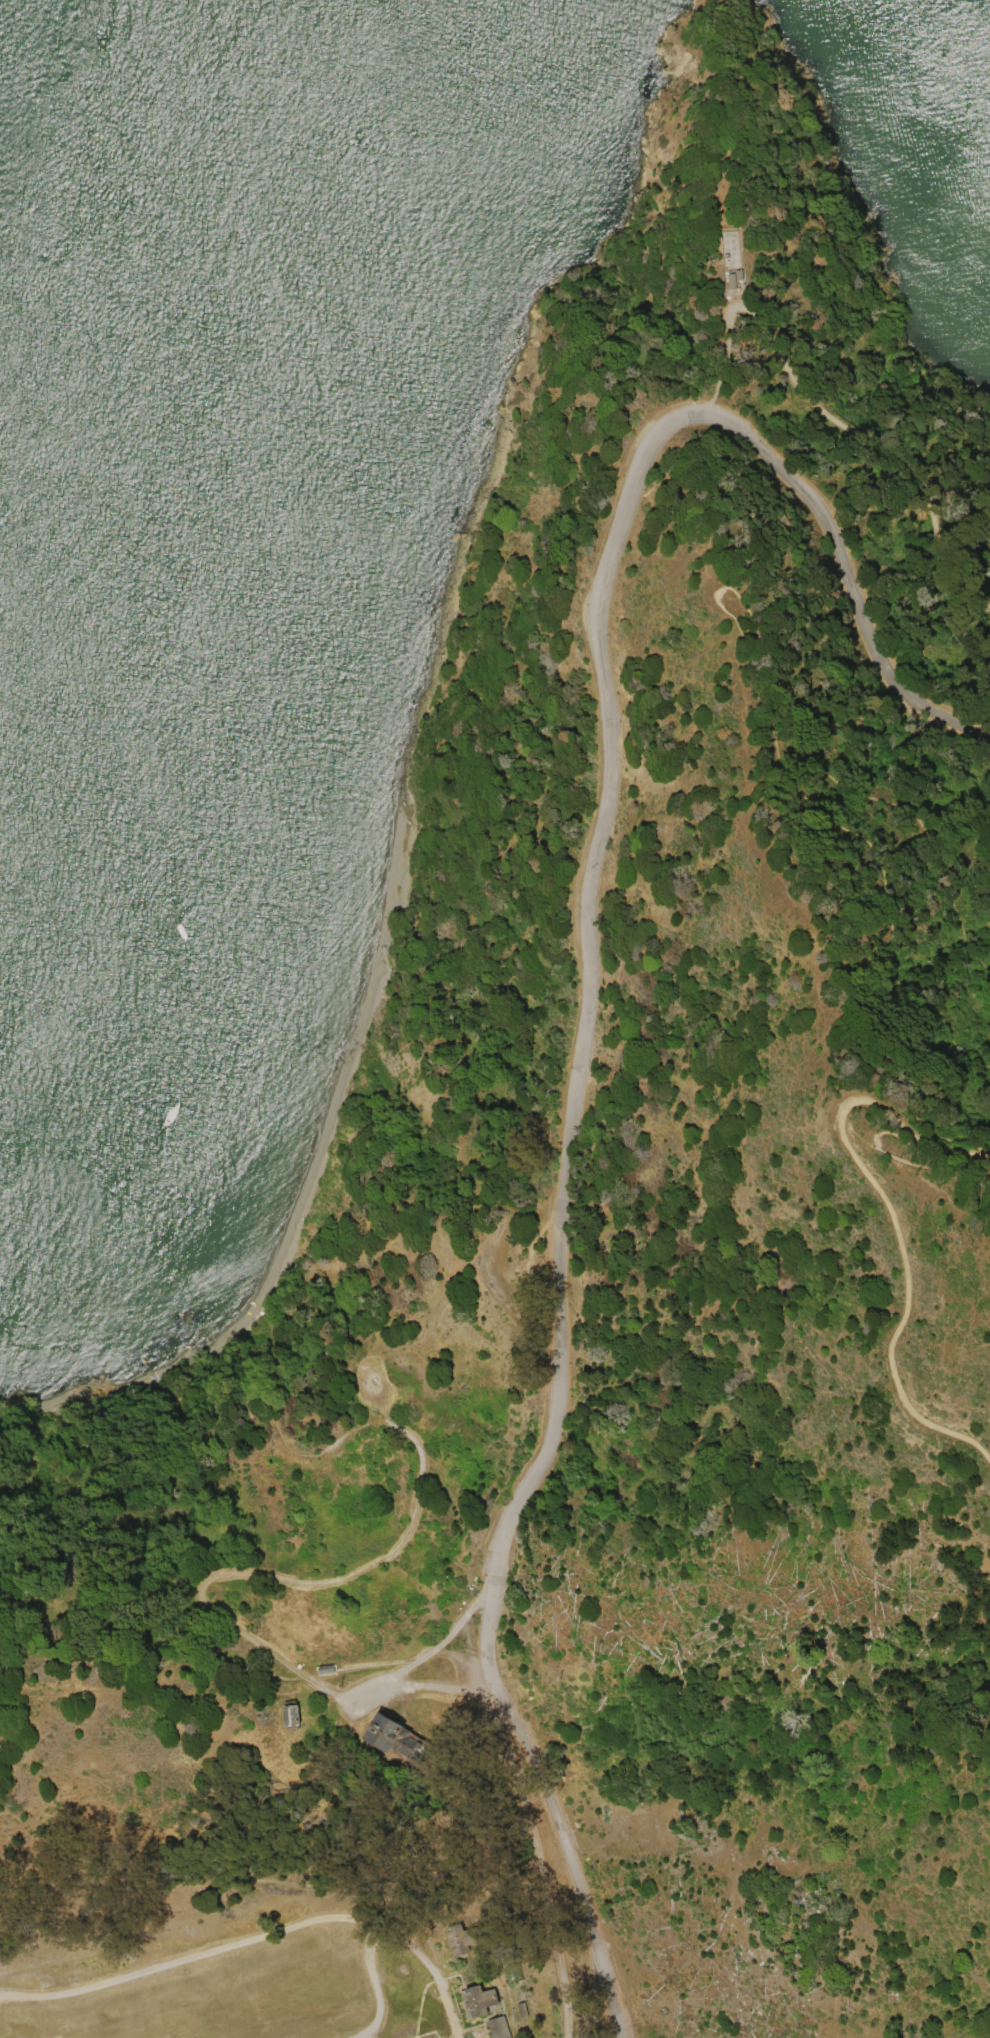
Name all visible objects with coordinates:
building: (745, 278)
road: (846, 422)
road: (966, 572)
road: (761, 628)
road: (603, 1005)
road: (892, 1073)
road: (922, 1157)
road: (923, 1223)
park: (592, 1252)
road: (251, 1401)
road: (317, 1583)
road: (469, 1627)
road: (375, 1669)
building: (344, 1672)
road: (162, 1693)
building: (310, 1716)
building: (420, 1740)
road: (463, 1809)
road: (222, 1883)
road: (559, 1887)
road: (254, 1937)
building: (470, 1939)
road: (443, 1972)
building: (490, 1999)
building: (533, 2009)
building: (508, 2027)

